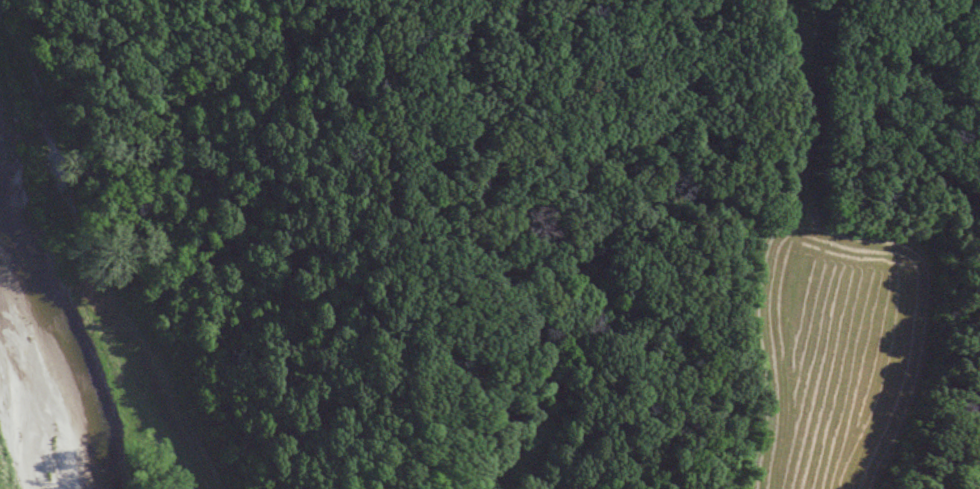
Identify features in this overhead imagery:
river: (19, 457)

